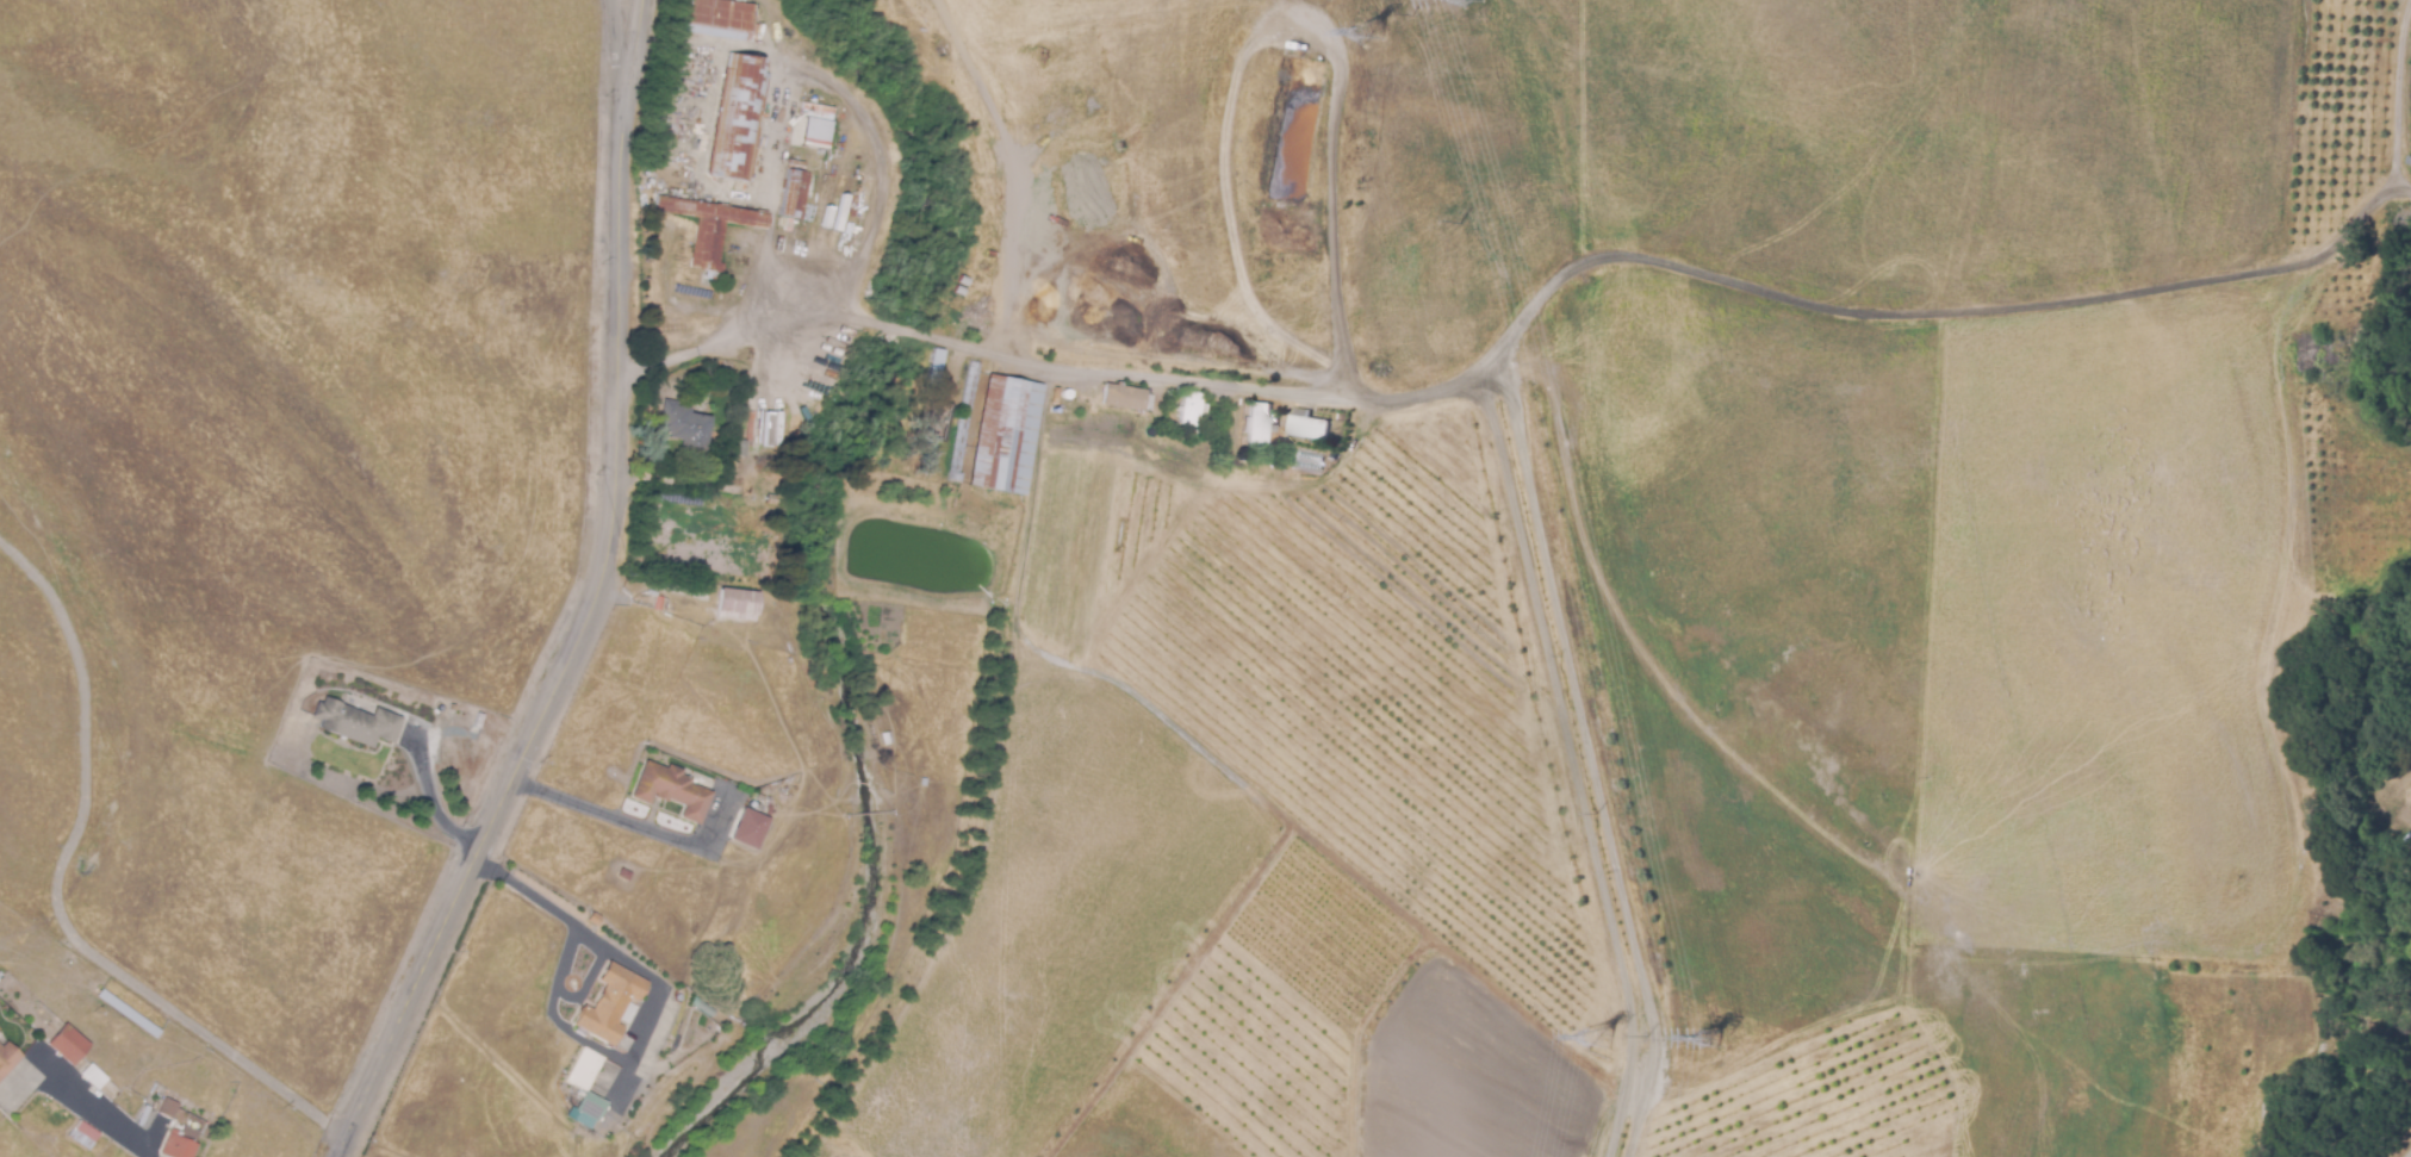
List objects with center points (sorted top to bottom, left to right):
road: (623, 18)
building: (715, 18)
power tower: (1365, 31)
road: (810, 73)
road: (712, 102)
building: (738, 117)
building: (814, 125)
building: (790, 195)
building: (710, 228)
road: (993, 350)
building: (936, 357)
building: (1123, 396)
building: (1189, 408)
building: (1198, 411)
building: (1255, 418)
building: (965, 421)
building: (936, 424)
building: (684, 425)
building: (1307, 425)
building: (1005, 435)
building: (925, 459)
building: (769, 502)
building: (738, 602)
building: (659, 603)
road: (591, 604)
building: (356, 722)
building: (671, 789)
road: (433, 801)
road: (579, 803)
building: (750, 829)
building: (625, 875)
road: (60, 890)
road: (542, 902)
building: (595, 919)
building: (611, 1003)
building: (129, 1013)
power tower: (1595, 1037)
power tower: (1704, 1040)
building: (68, 1045)
building: (7, 1057)
building: (585, 1068)
building: (92, 1075)
building: (592, 1105)
building: (169, 1106)
road: (99, 1118)
building: (82, 1133)
building: (184, 1137)

